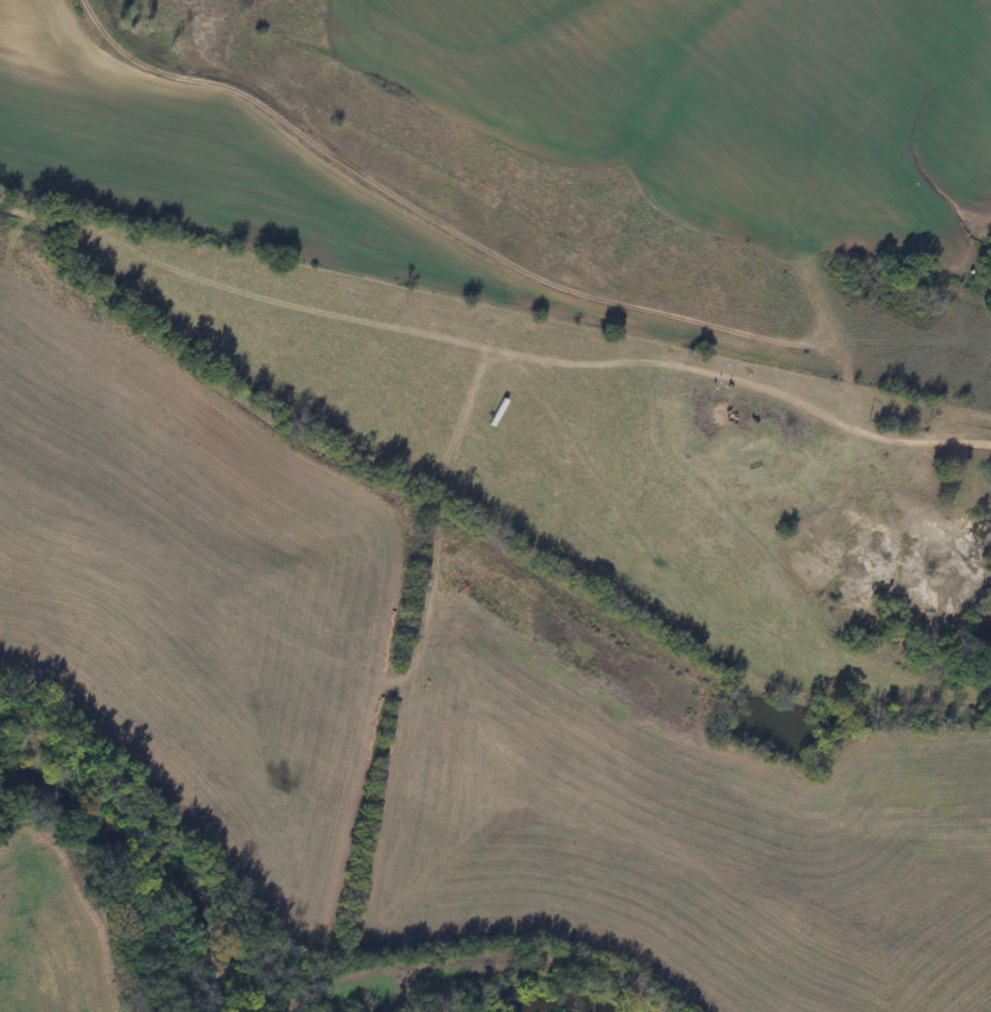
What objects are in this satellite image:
river: (150, 851)
river: (550, 1001)

